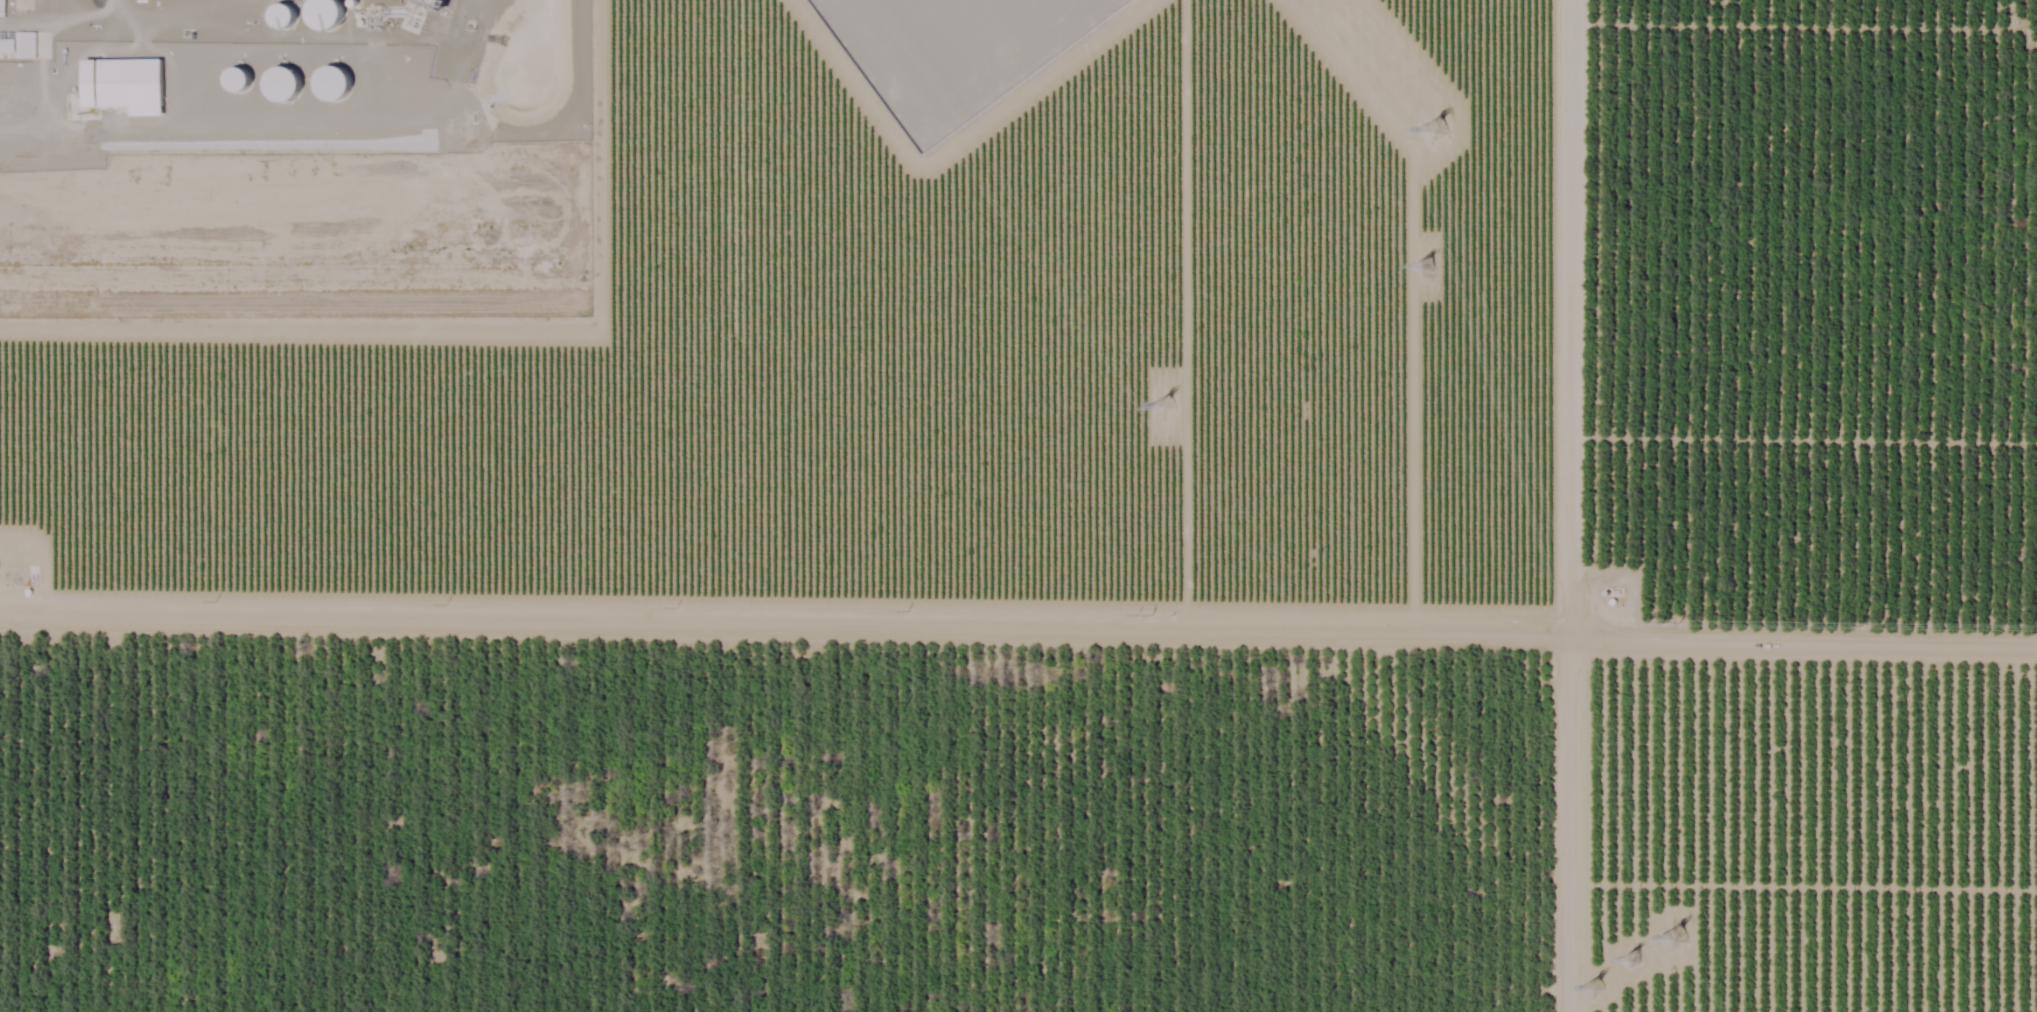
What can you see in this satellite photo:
building: (432, 3)
building: (325, 13)
building: (19, 43)
road: (2000, 47)
power substation: (955, 50)
building: (125, 84)
power tower: (1442, 138)
power plant: (308, 154)
power tower: (1426, 266)
power tower: (1170, 421)
road: (1018, 618)
power tower: (1670, 930)
power tower: (1640, 965)
power tower: (1607, 993)

